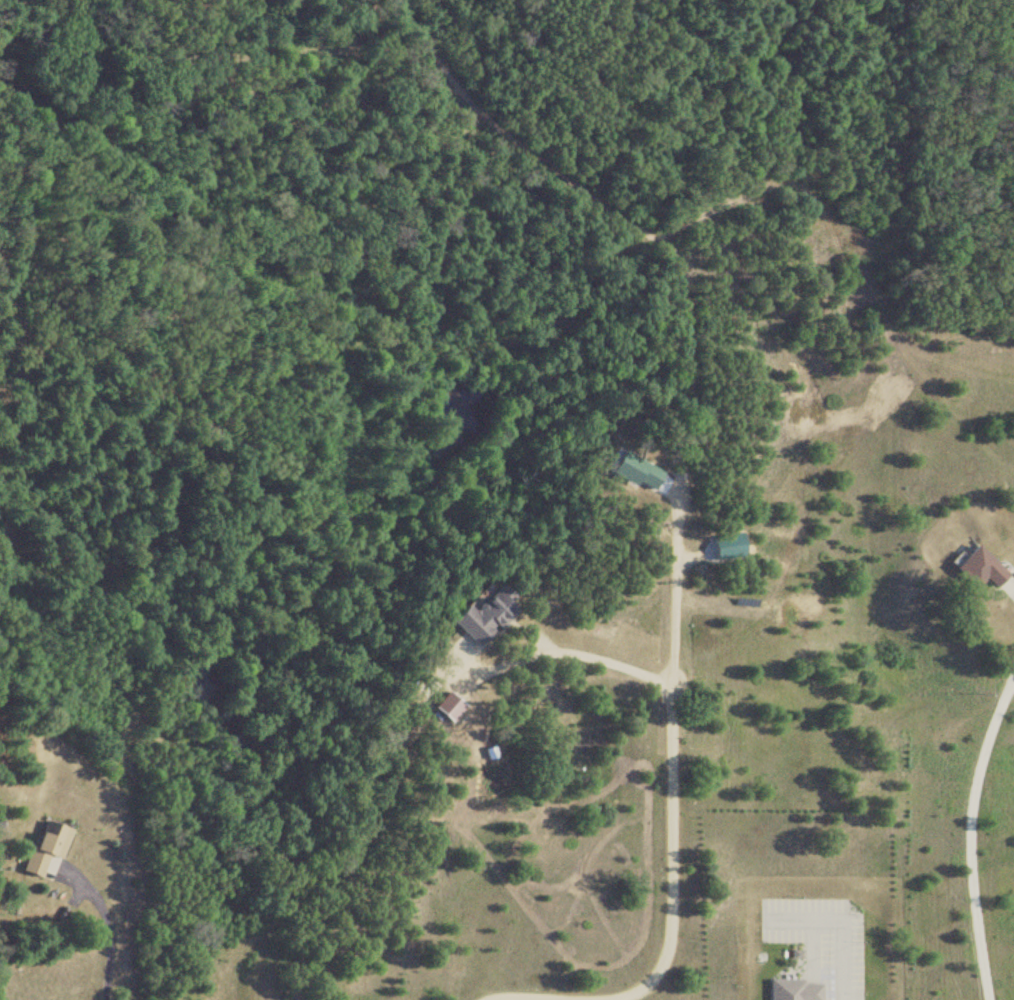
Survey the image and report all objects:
building: (970, 569)
road: (1011, 578)
building: (473, 616)
road: (670, 815)
road: (969, 832)
road: (107, 922)

